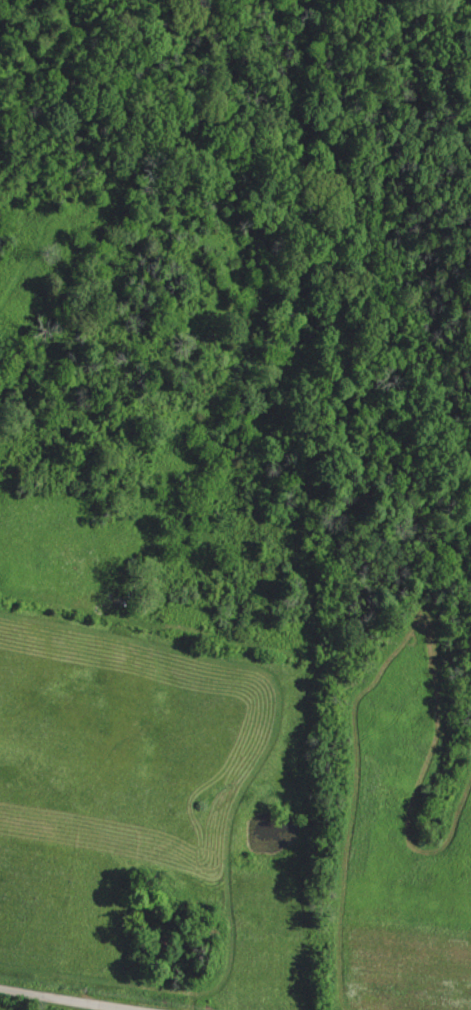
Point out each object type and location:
road: (38, 1002)

